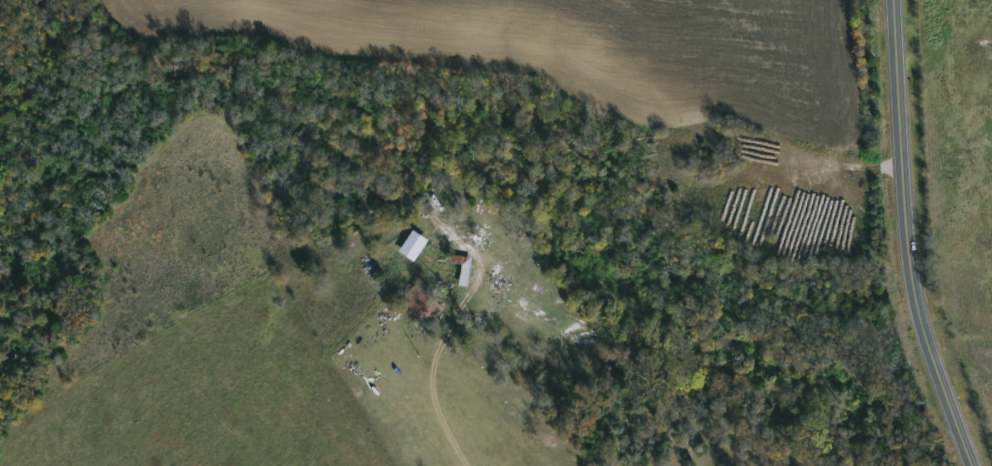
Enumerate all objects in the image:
road: (912, 237)
building: (457, 266)

